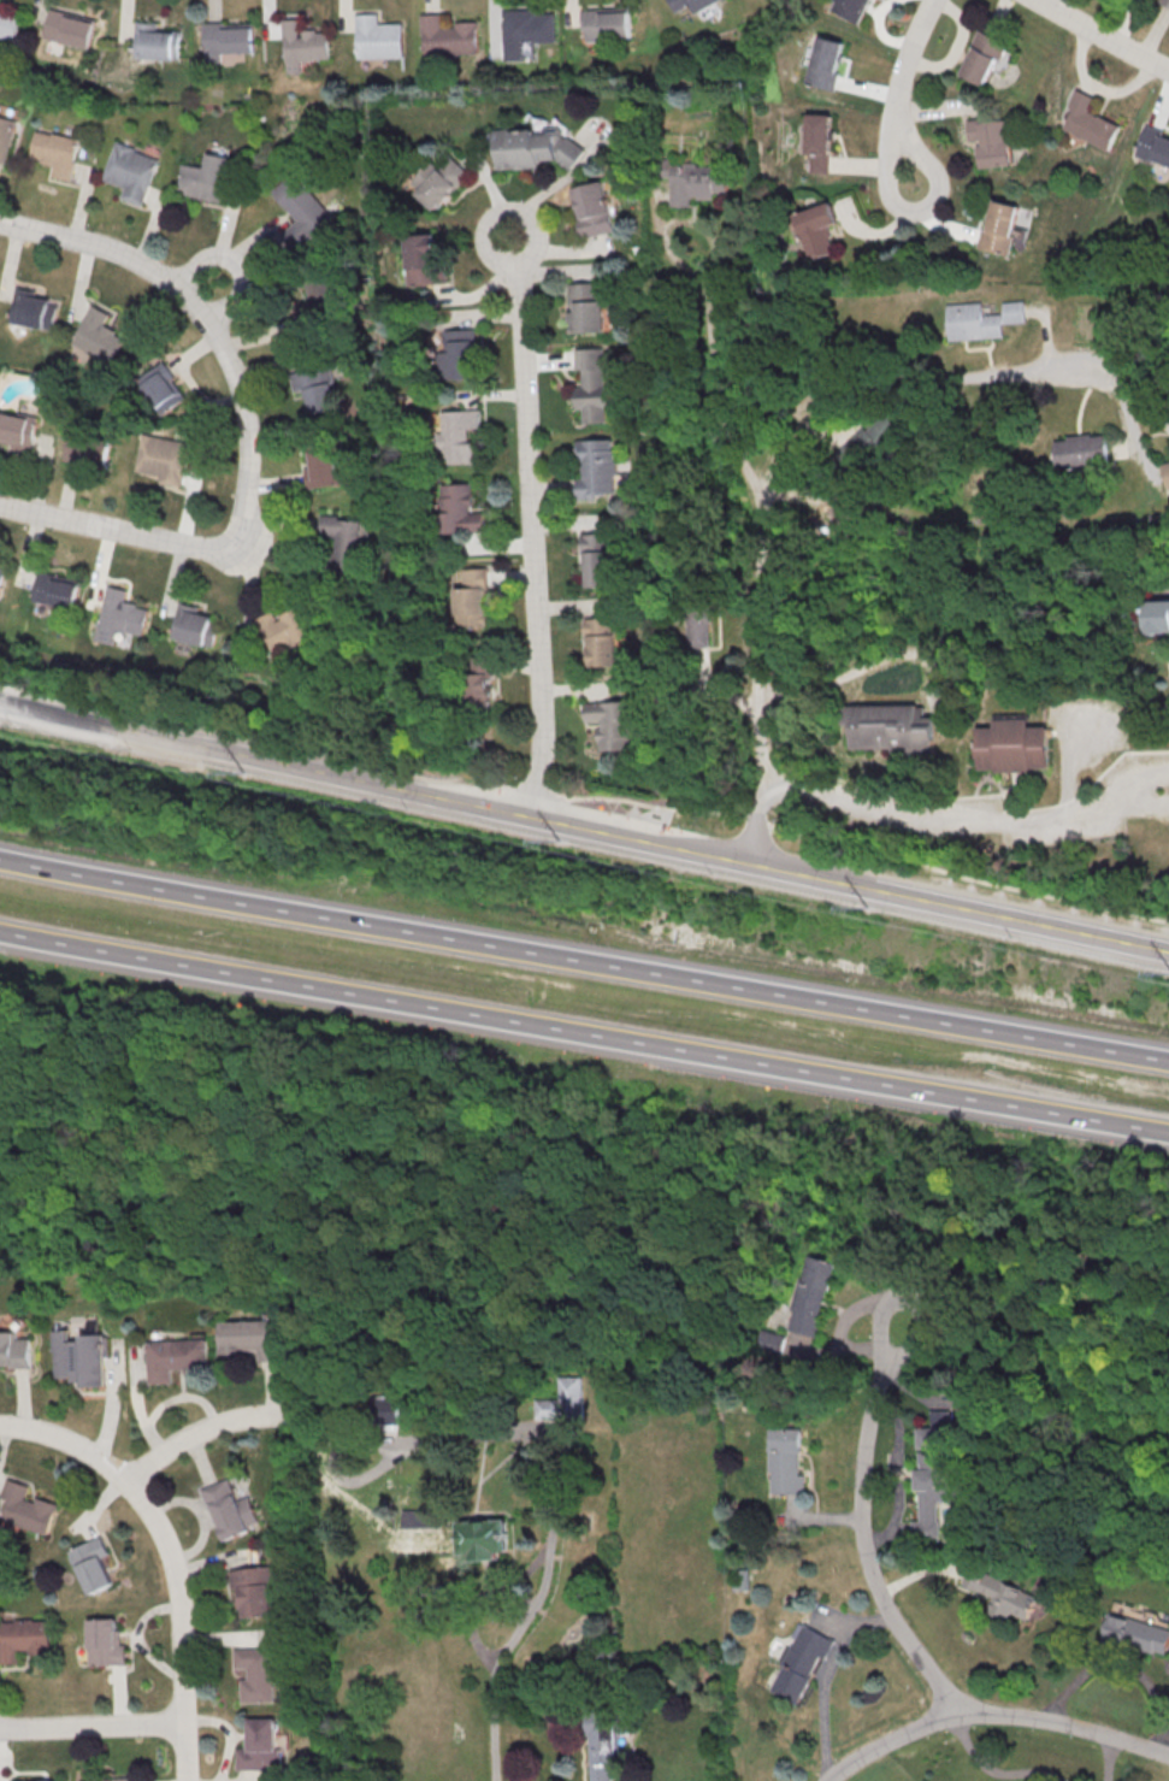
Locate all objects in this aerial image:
building: (1165, 1)
building: (695, 4)
building: (846, 8)
building: (601, 24)
building: (67, 29)
building: (521, 31)
road: (1102, 34)
building: (376, 37)
building: (444, 37)
building: (223, 39)
building: (150, 41)
building: (299, 43)
building: (981, 58)
building: (822, 61)
road: (898, 92)
building: (5, 135)
building: (991, 141)
building: (816, 142)
building: (537, 147)
building: (1153, 147)
building: (53, 153)
building: (129, 172)
building: (205, 178)
building: (439, 182)
building: (698, 182)
building: (302, 206)
building: (594, 208)
building: (1000, 226)
building: (817, 229)
road: (236, 258)
building: (423, 259)
building: (326, 301)
building: (586, 307)
building: (35, 308)
road: (200, 315)
building: (982, 319)
building: (98, 336)
building: (461, 353)
road: (714, 354)
building: (591, 384)
building: (161, 389)
building: (319, 389)
road: (822, 412)
building: (17, 427)
building: (460, 436)
building: (869, 438)
building: (87, 449)
building: (1082, 450)
building: (160, 459)
building: (324, 467)
building: (596, 468)
building: (1167, 470)
building: (461, 509)
road: (529, 524)
road: (123, 532)
building: (347, 535)
building: (600, 559)
building: (1, 572)
building: (54, 590)
building: (472, 592)
building: (119, 615)
building: (1156, 615)
building: (698, 619)
building: (195, 625)
building: (285, 629)
building: (600, 642)
building: (482, 682)
building: (610, 724)
building: (888, 727)
building: (1012, 745)
power tower: (241, 774)
road: (1121, 788)
road: (760, 819)
road: (955, 819)
road: (584, 826)
power tower: (556, 841)
road: (852, 842)
power tower: (862, 908)
road: (584, 962)
power tower: (1165, 973)
road: (584, 1032)
building: (811, 1296)
building: (253, 1337)
building: (14, 1350)
building: (81, 1357)
building: (176, 1357)
building: (563, 1400)
building: (390, 1410)
road: (202, 1429)
building: (940, 1431)
road: (391, 1440)
road: (83, 1453)
building: (784, 1459)
building: (932, 1490)
building: (26, 1508)
building: (231, 1510)
road: (862, 1525)
building: (483, 1538)
building: (94, 1565)
road: (544, 1567)
building: (740, 1580)
building: (254, 1590)
building: (1003, 1593)
road: (484, 1596)
building: (1134, 1634)
building: (24, 1638)
building: (106, 1641)
road: (182, 1641)
building: (801, 1663)
road: (1118, 1665)
building: (256, 1674)
road: (821, 1679)
road: (993, 1716)
road: (91, 1724)
road: (494, 1734)
building: (262, 1745)
building: (601, 1746)
road: (1104, 1759)
road: (986, 1773)
building: (110, 1779)

